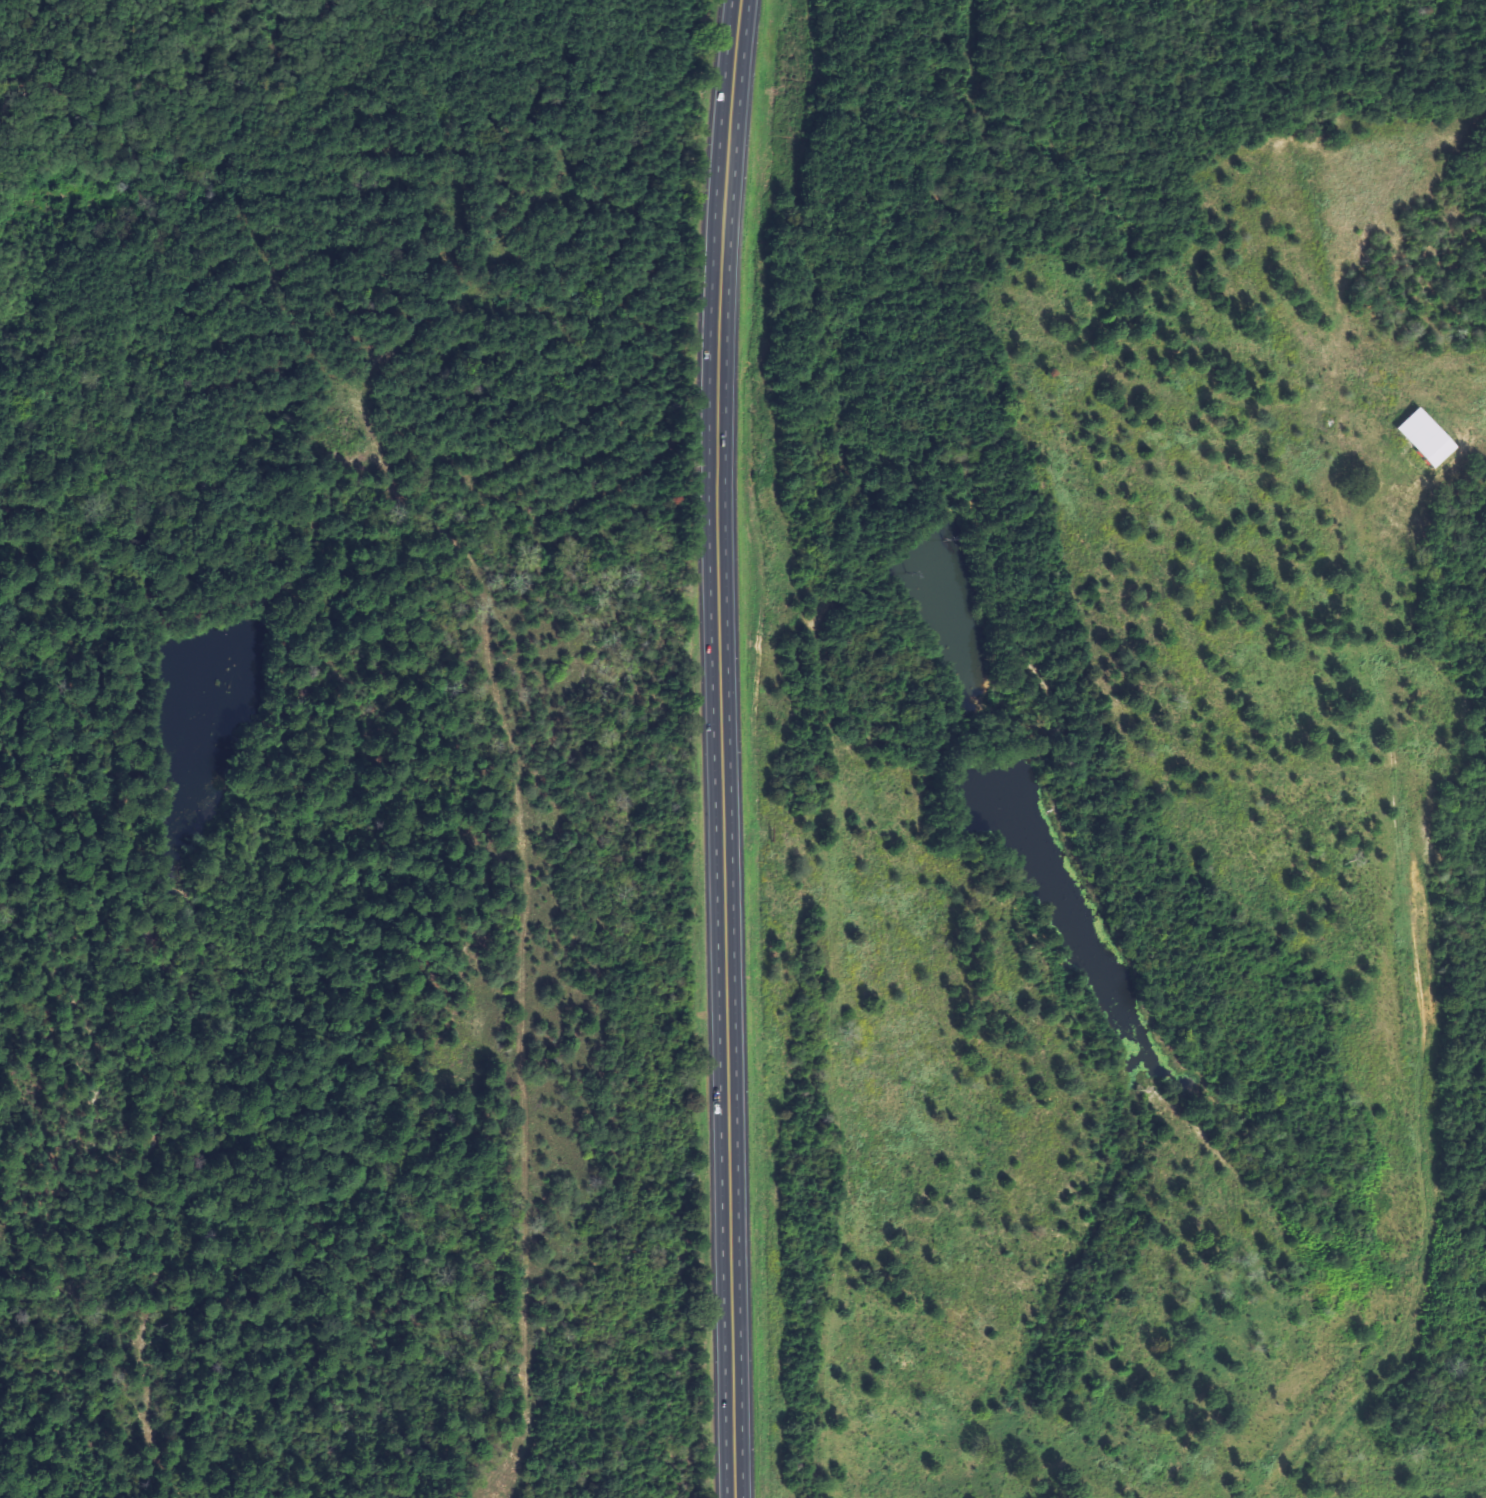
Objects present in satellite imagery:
building: (1431, 438)
road: (727, 748)
road: (917, 1369)

